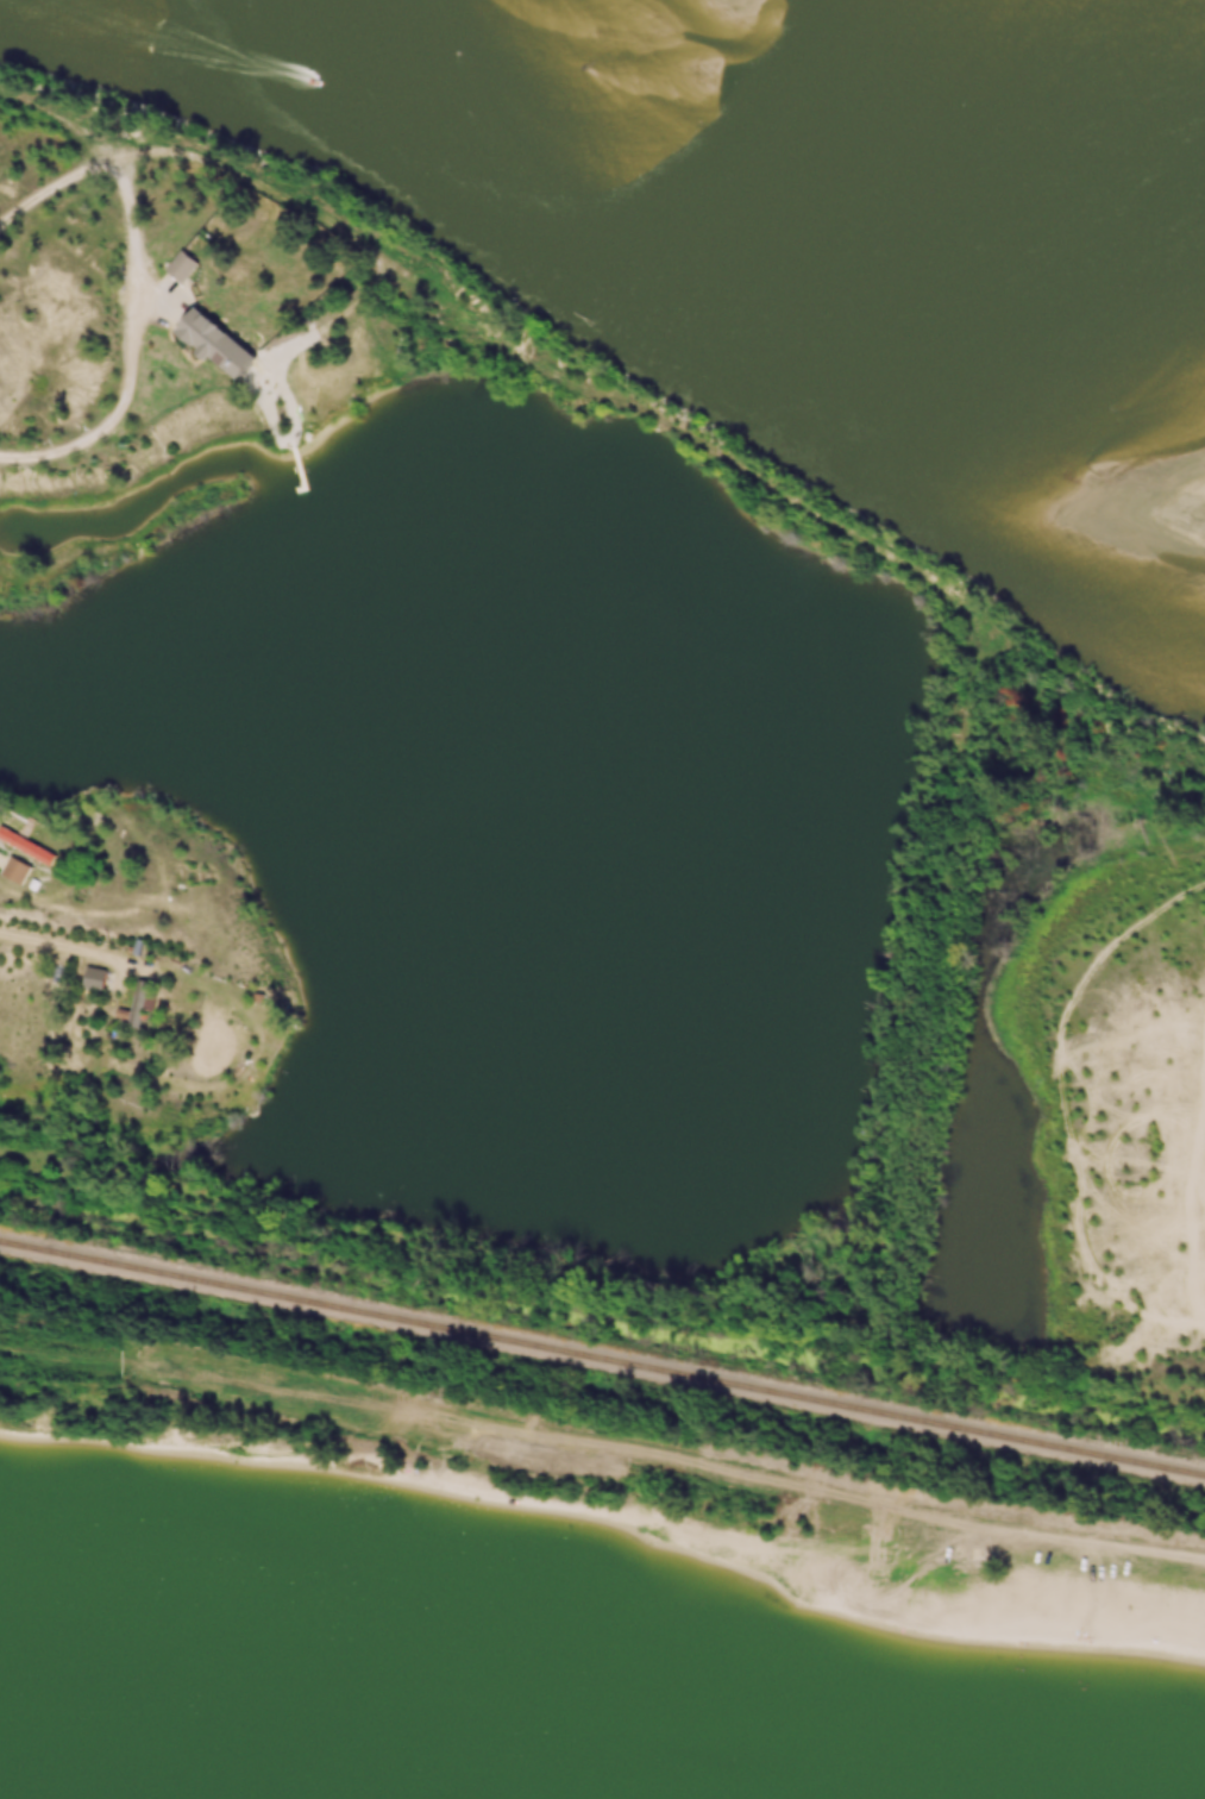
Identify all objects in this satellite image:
river: (1162, 26)
road: (131, 150)
road: (334, 318)
building: (224, 343)
road: (121, 406)
road: (955, 598)
building: (30, 846)
building: (20, 871)
road: (68, 944)
building: (99, 979)
building: (143, 1003)
railway: (602, 1359)

